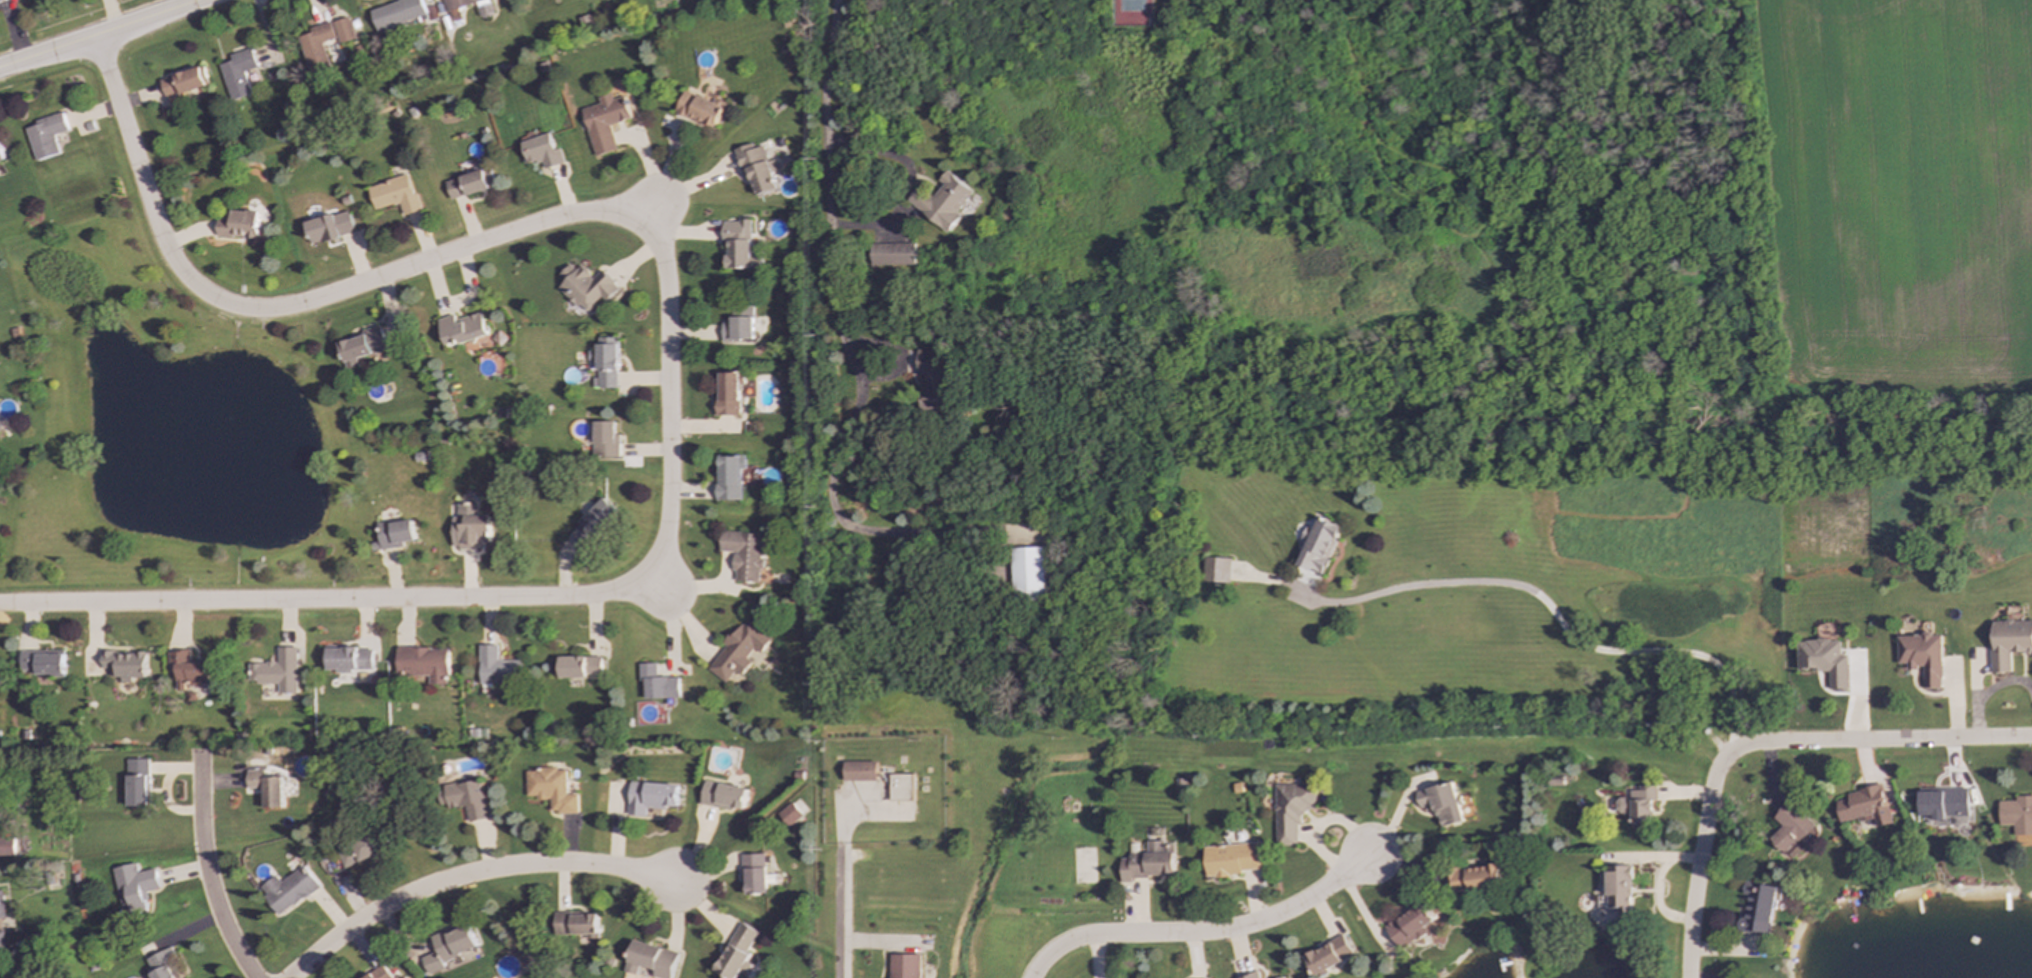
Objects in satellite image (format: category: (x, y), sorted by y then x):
building: (0, 0)
park: (1131, 6)
building: (459, 7)
building: (398, 13)
road: (103, 34)
building: (315, 56)
building: (238, 74)
building: (184, 82)
building: (699, 109)
building: (604, 121)
building: (45, 136)
building: (541, 151)
building: (1, 154)
road: (825, 157)
building: (758, 167)
road: (910, 182)
building: (470, 184)
crop: (1907, 187)
building: (395, 194)
building: (942, 201)
road: (649, 215)
building: (238, 224)
building: (329, 227)
building: (741, 245)
building: (892, 254)
building: (587, 287)
building: (739, 325)
building: (462, 329)
building: (362, 346)
road: (667, 356)
building: (608, 362)
building: (933, 380)
building: (730, 393)
building: (606, 440)
building: (730, 477)
road: (832, 493)
building: (595, 523)
building: (472, 528)
building: (395, 534)
building: (1319, 545)
building: (744, 554)
building: (1216, 570)
building: (1027, 573)
road: (657, 585)
road: (1556, 613)
building: (2009, 642)
building: (739, 650)
building: (1923, 657)
building: (350, 659)
building: (1824, 661)
building: (43, 662)
building: (425, 663)
building: (125, 664)
building: (498, 667)
building: (581, 667)
building: (189, 670)
building: (277, 671)
building: (658, 683)
road: (1883, 742)
building: (859, 771)
building: (267, 787)
building: (551, 789)
building: (651, 796)
building: (723, 796)
building: (467, 799)
building: (1442, 803)
building: (1942, 803)
building: (1860, 804)
building: (1638, 806)
building: (1293, 810)
building: (789, 815)
building: (2016, 815)
building: (1791, 830)
building: (7, 846)
building: (360, 849)
building: (1232, 859)
road: (1698, 859)
building: (1150, 862)
road: (205, 870)
building: (754, 874)
road: (469, 875)
building: (1474, 878)
building: (1641, 878)
building: (134, 886)
building: (1620, 888)
building: (289, 890)
building: (2, 905)
building: (1757, 906)
road: (842, 914)
building: (575, 923)
building: (1409, 926)
road: (1203, 932)
building: (2, 941)
building: (443, 947)
building: (736, 952)
building: (1329, 955)
building: (650, 960)
building: (161, 964)
building: (904, 966)

